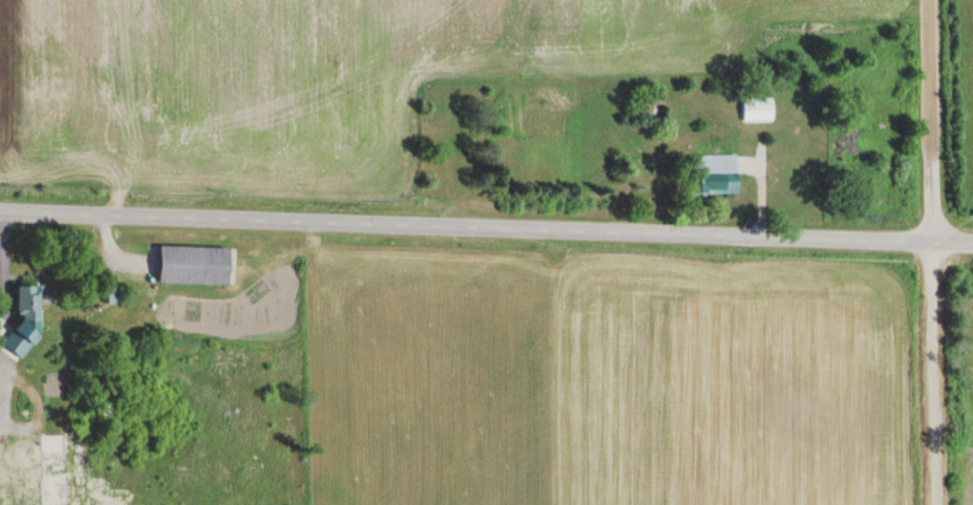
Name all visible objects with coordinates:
building: (757, 108)
building: (720, 175)
road: (486, 226)
road: (932, 252)
building: (197, 265)
building: (29, 318)
building: (61, 468)

